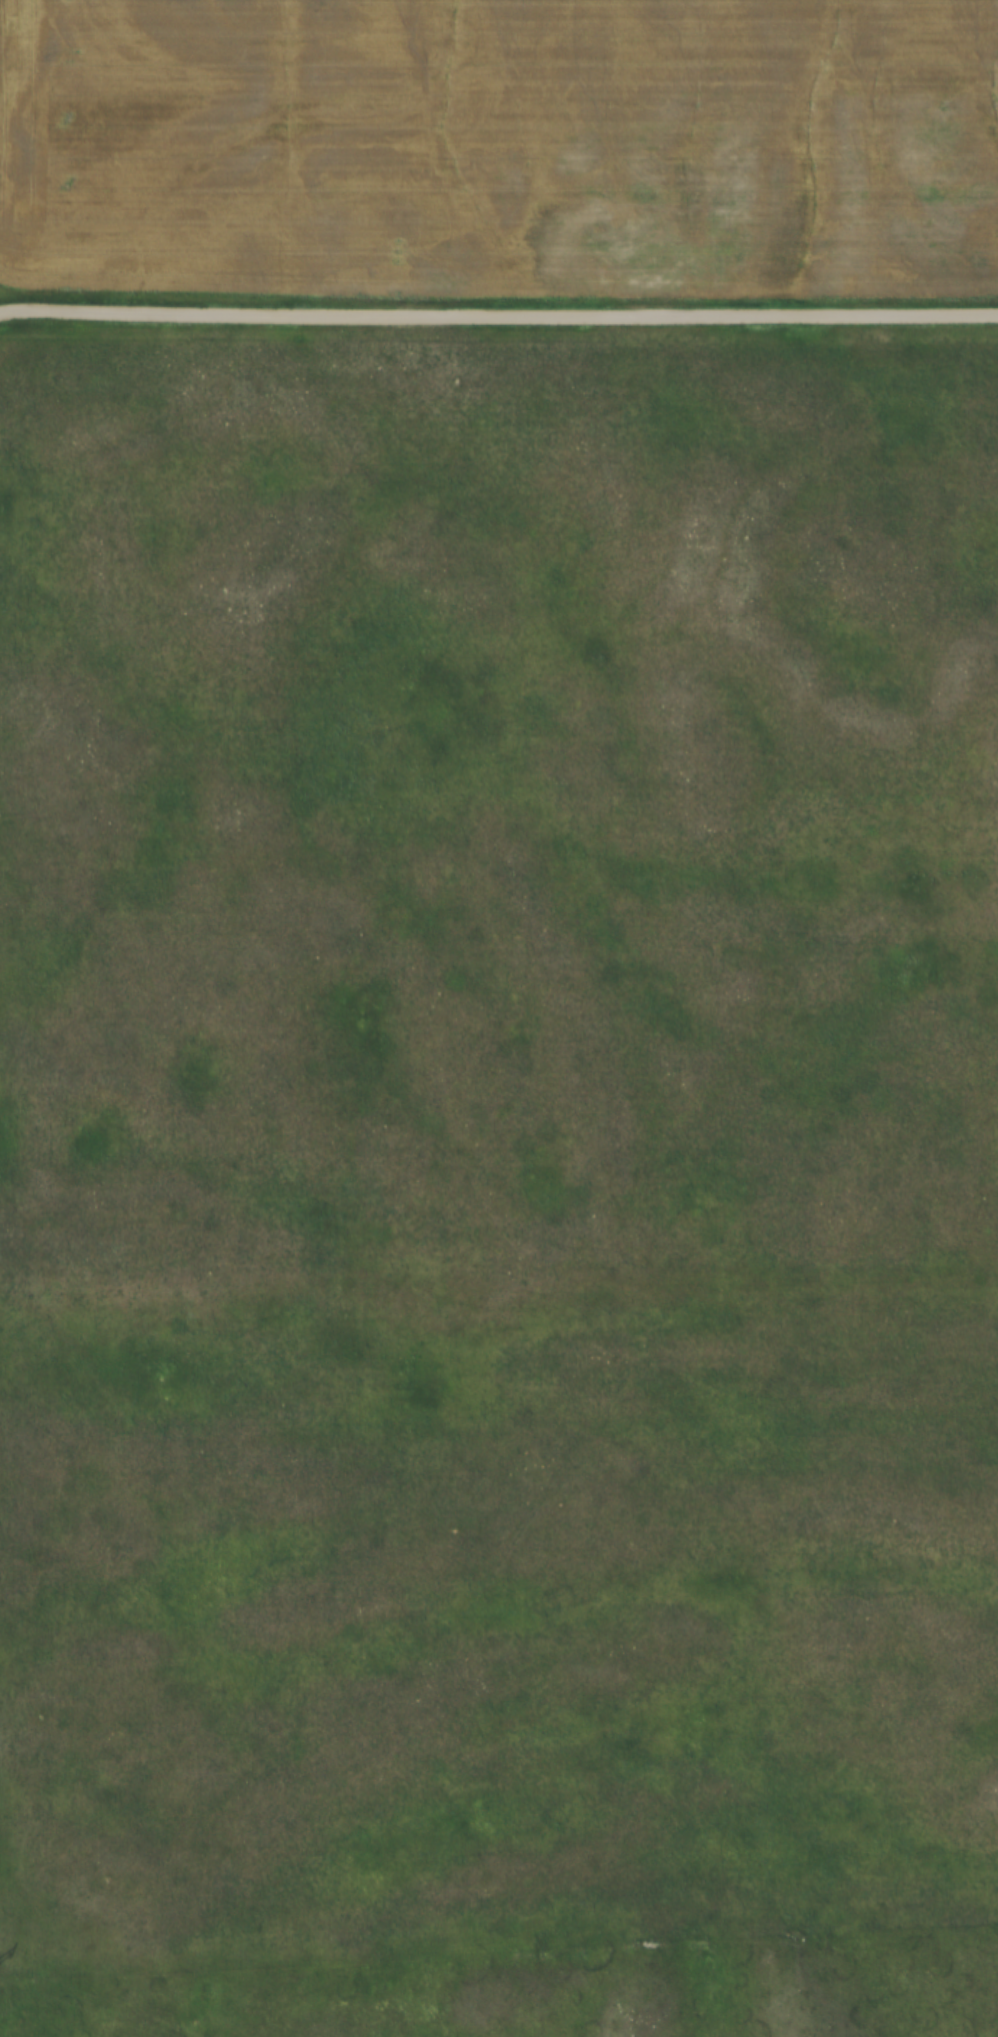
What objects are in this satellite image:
road: (498, 314)

